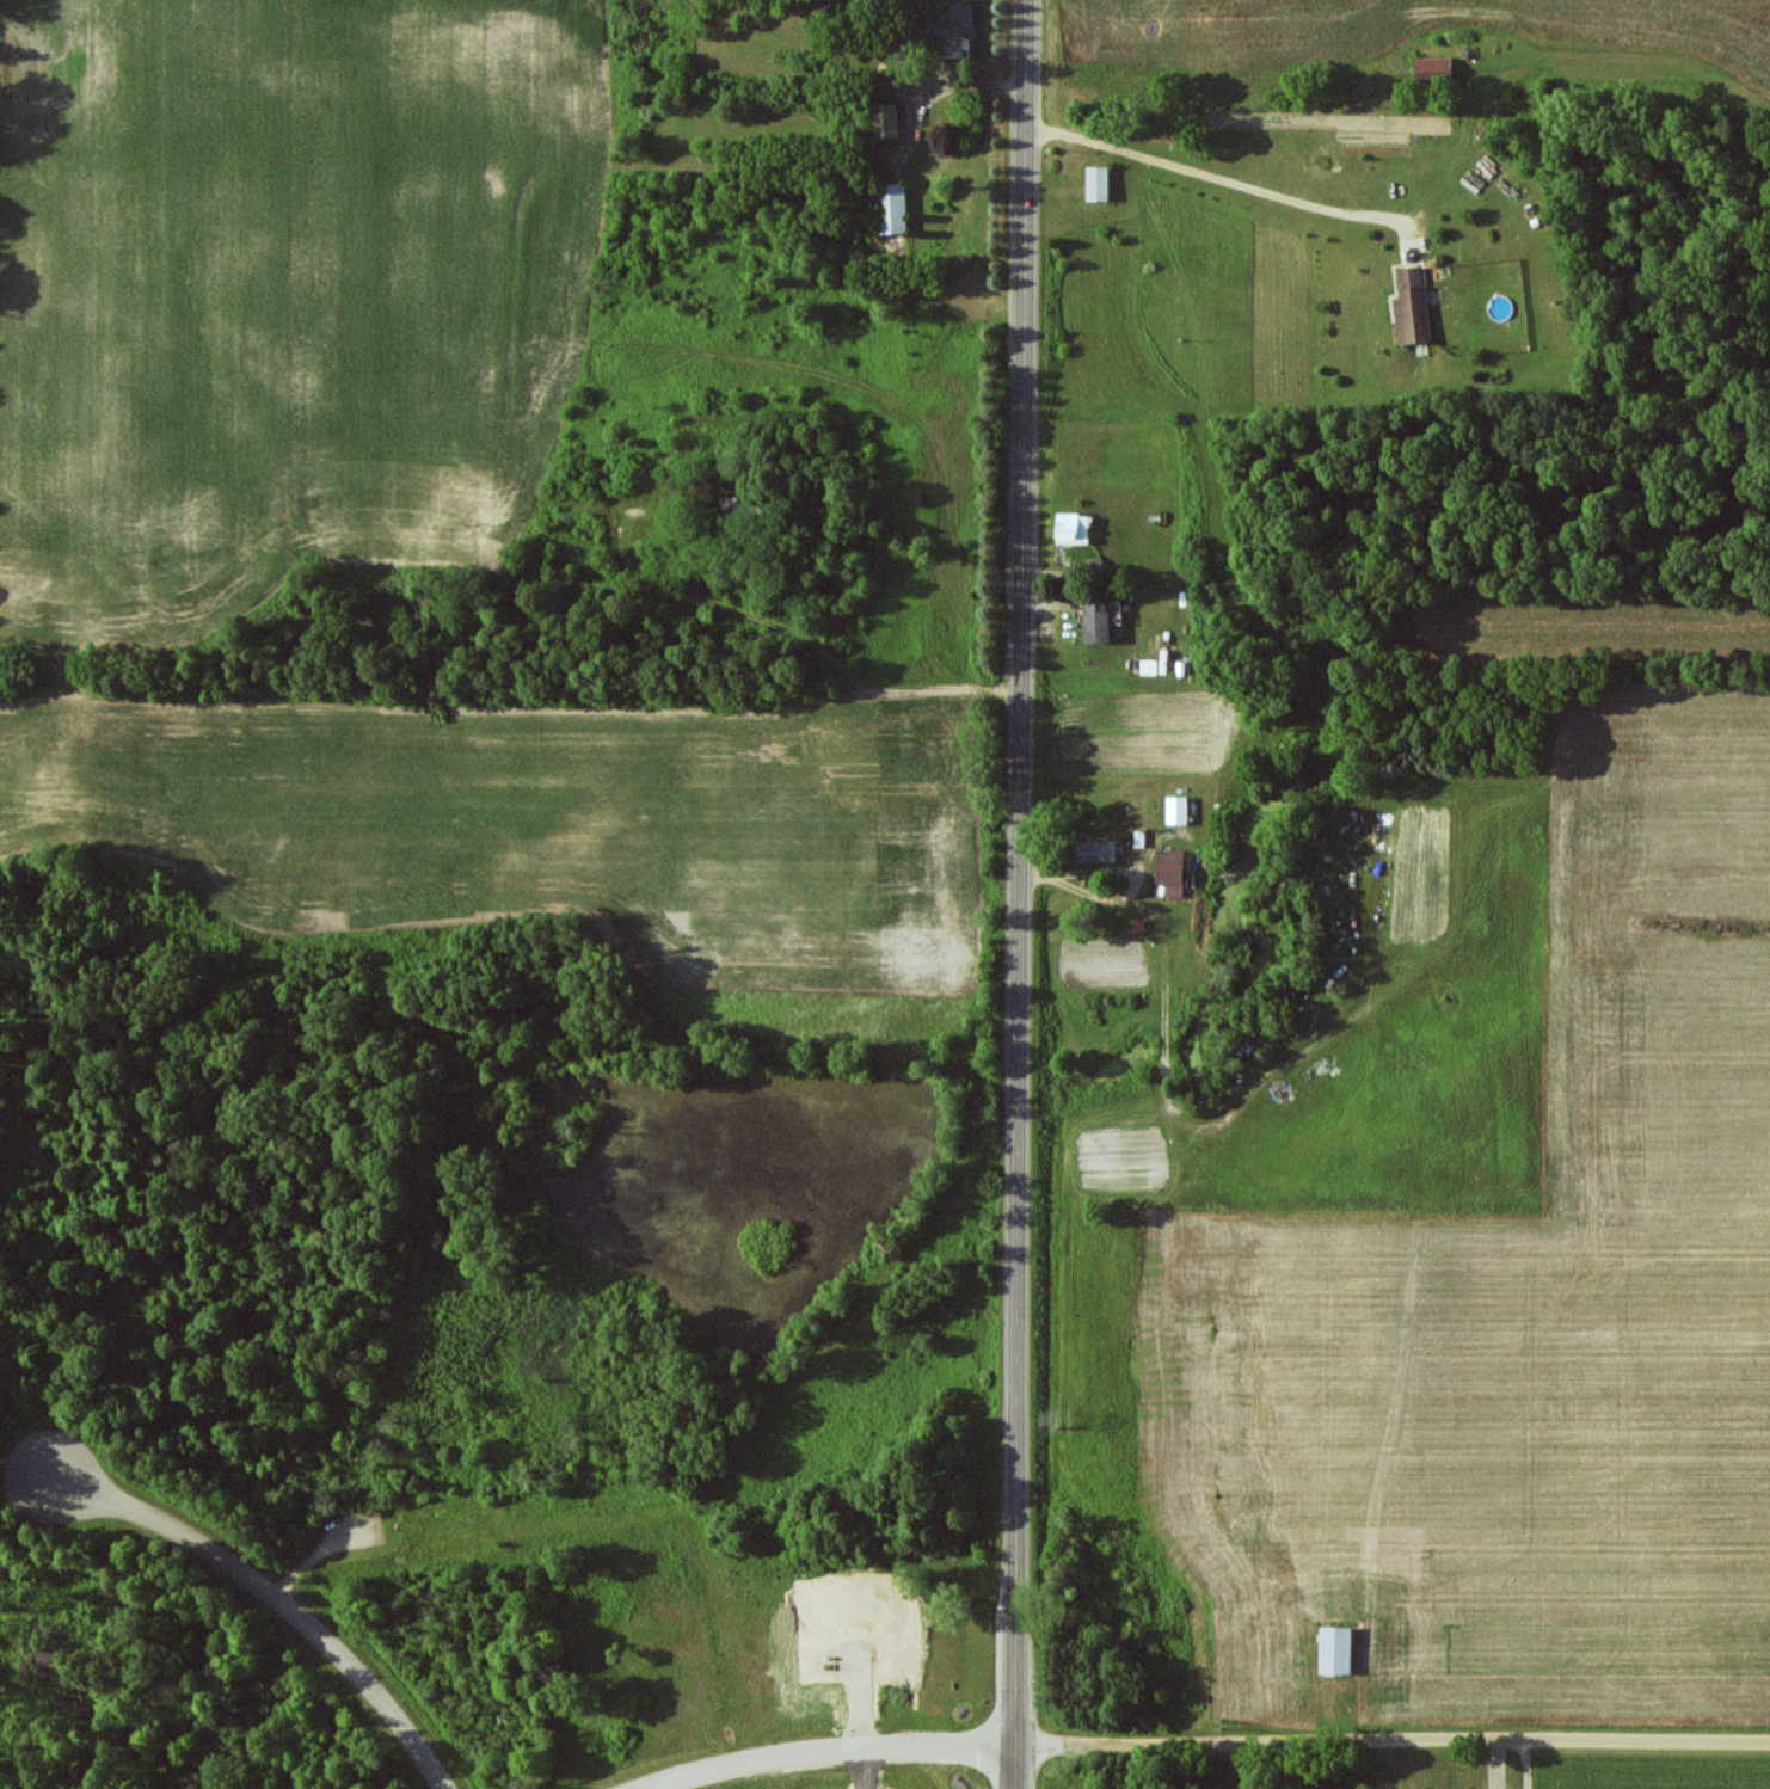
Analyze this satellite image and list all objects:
building: (953, 31)
building: (1434, 68)
building: (886, 121)
road: (1233, 182)
building: (1098, 184)
building: (892, 209)
building: (1412, 308)
building: (1074, 528)
building: (1098, 622)
road: (794, 635)
building: (1179, 810)
building: (1098, 850)
building: (1172, 873)
road: (1020, 895)
road: (277, 1602)
building: (1336, 1649)
road: (1393, 1741)
road: (834, 1752)

